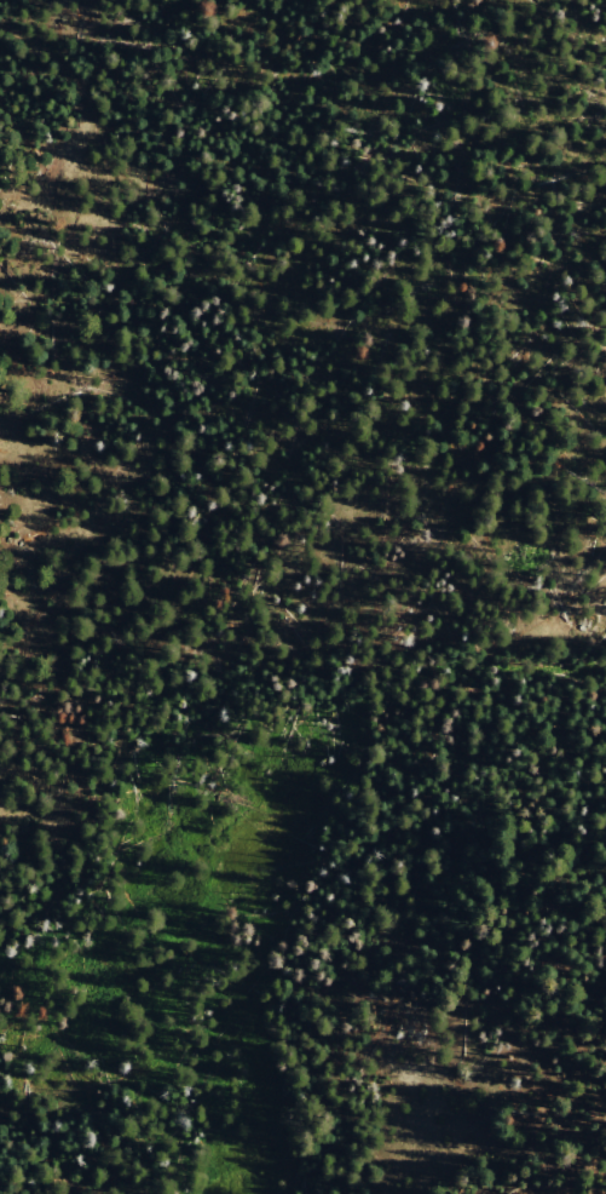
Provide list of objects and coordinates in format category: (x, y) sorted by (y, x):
road: (178, 591)

